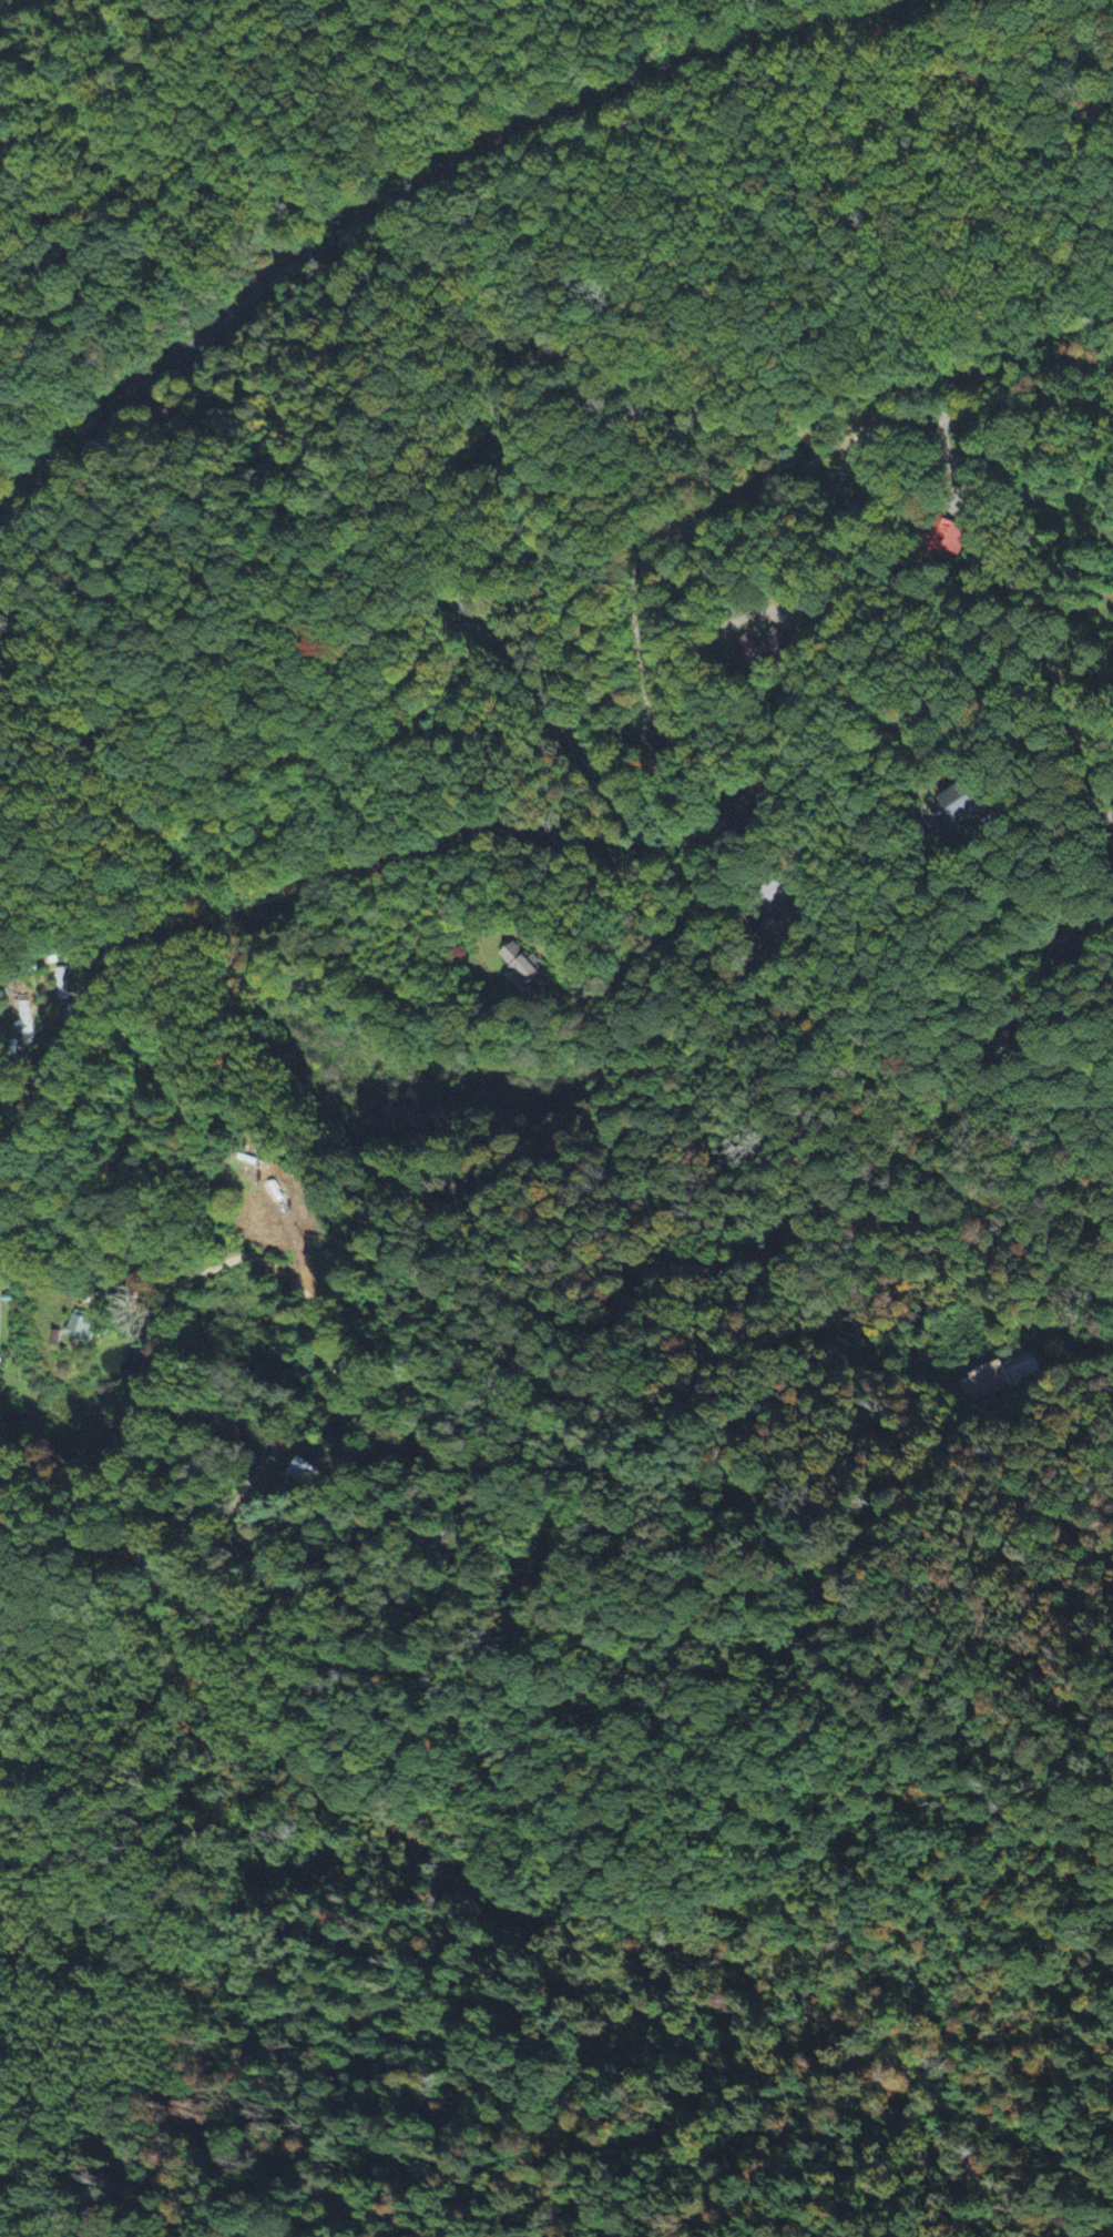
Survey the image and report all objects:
road: (423, 177)
road: (512, 359)
road: (1008, 580)
road: (1092, 695)
road: (622, 762)
road: (982, 823)
road: (990, 954)
building: (520, 969)
building: (62, 985)
road: (16, 1070)
road: (275, 1267)
building: (81, 1328)
road: (1105, 1332)
building: (983, 1383)
building: (300, 1470)

